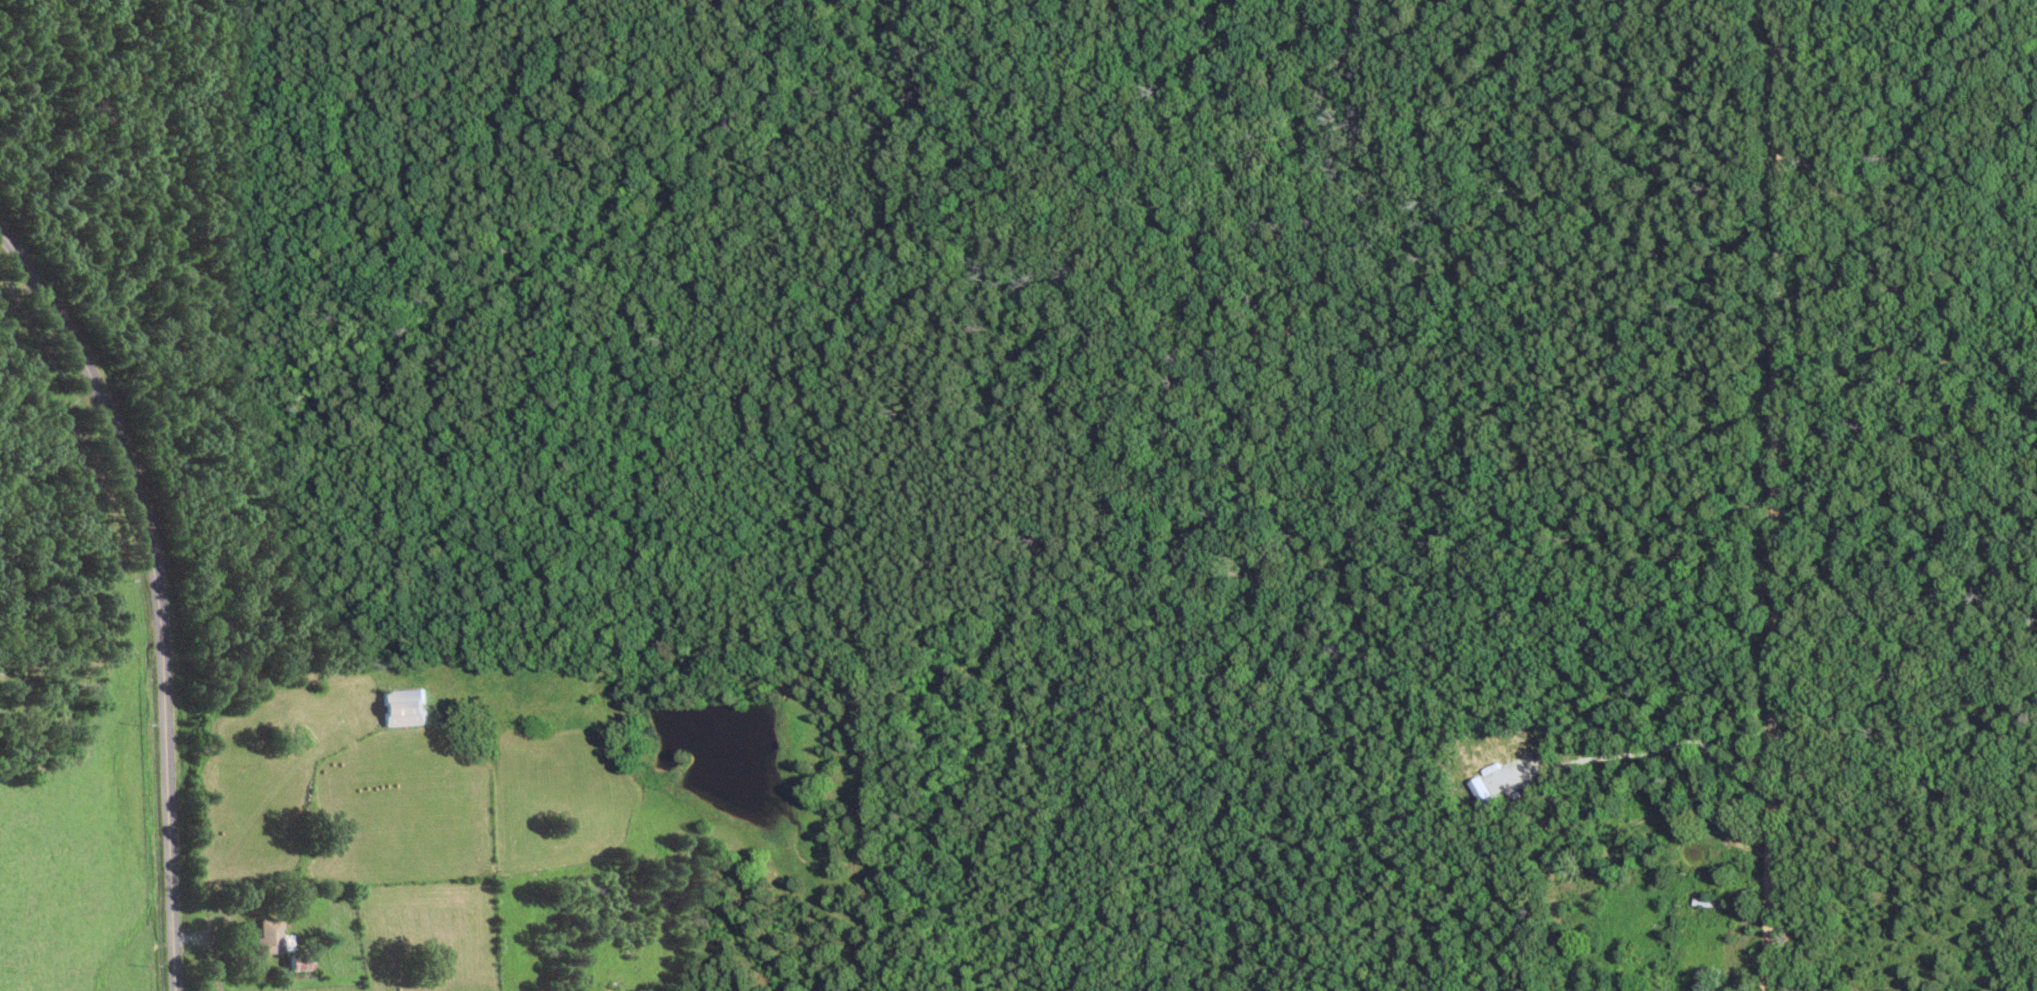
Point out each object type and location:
road: (1927, 433)
road: (1771, 493)
road: (146, 567)
building: (398, 711)
building: (1705, 906)
building: (267, 940)

